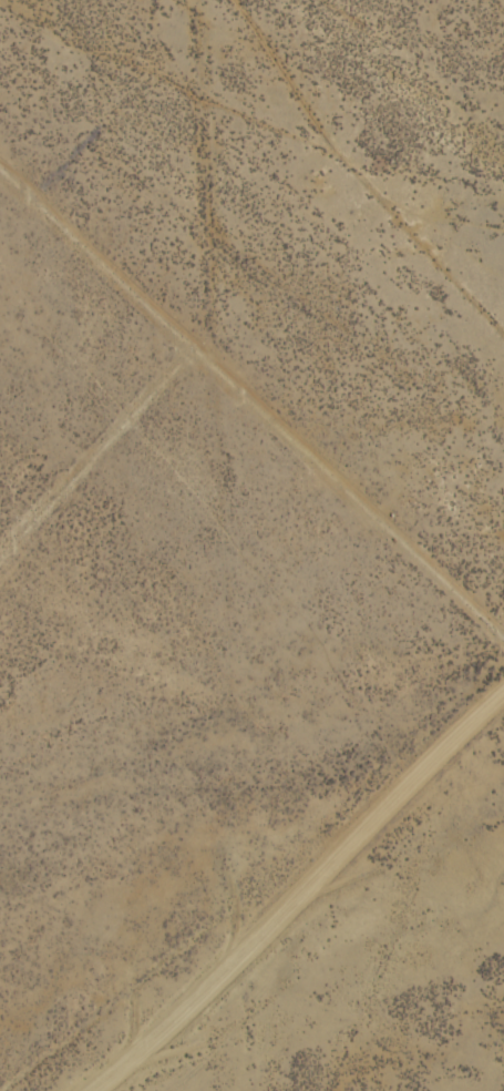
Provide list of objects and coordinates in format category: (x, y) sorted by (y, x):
road: (297, 915)

